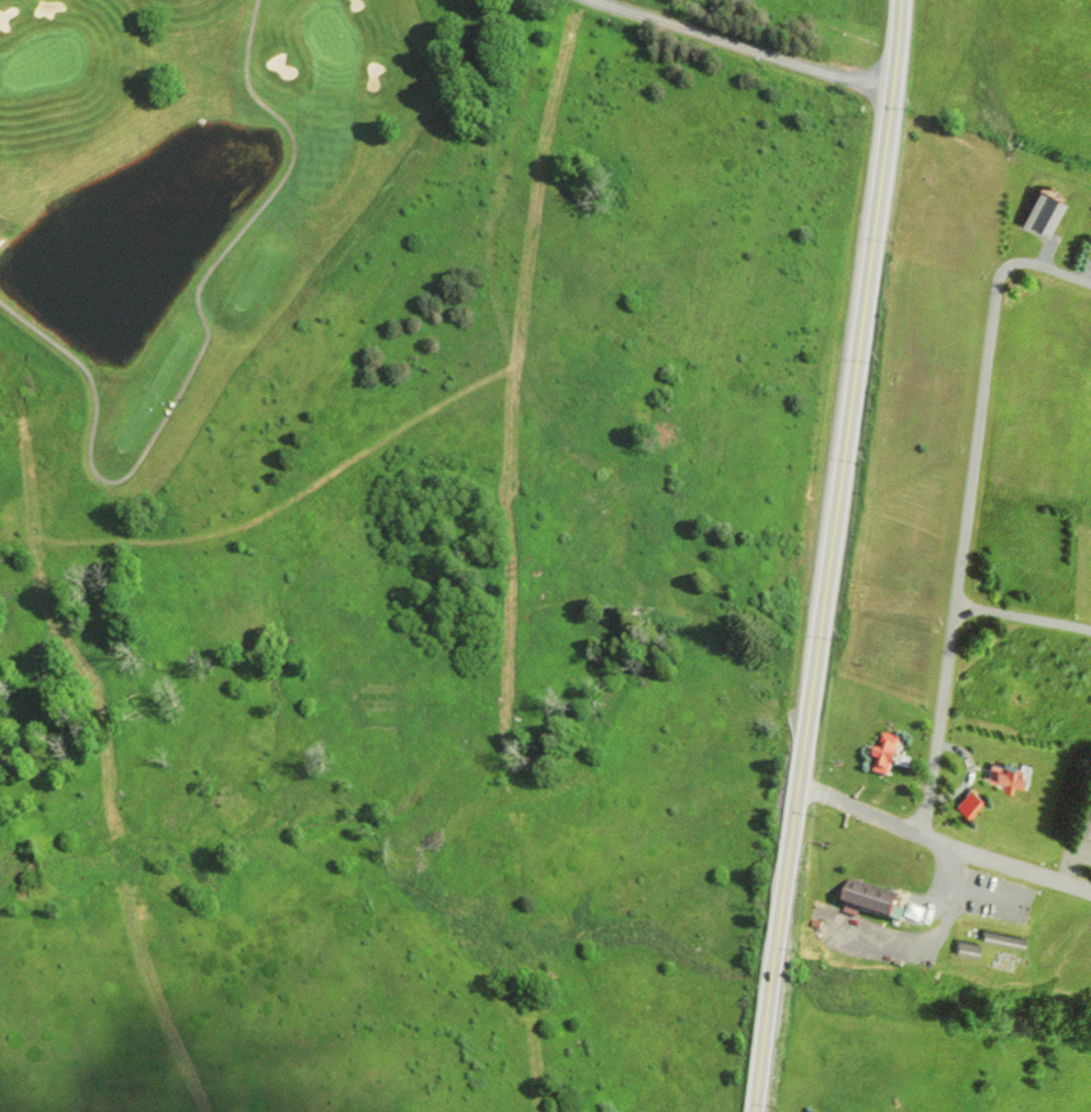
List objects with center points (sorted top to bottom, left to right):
road: (743, 44)
park: (192, 190)
building: (1040, 214)
road: (201, 345)
road: (989, 389)
road: (825, 556)
road: (1023, 619)
road: (937, 718)
building: (881, 753)
building: (998, 774)
building: (967, 804)
building: (1078, 818)
road: (943, 841)
building: (867, 896)
building: (966, 949)

